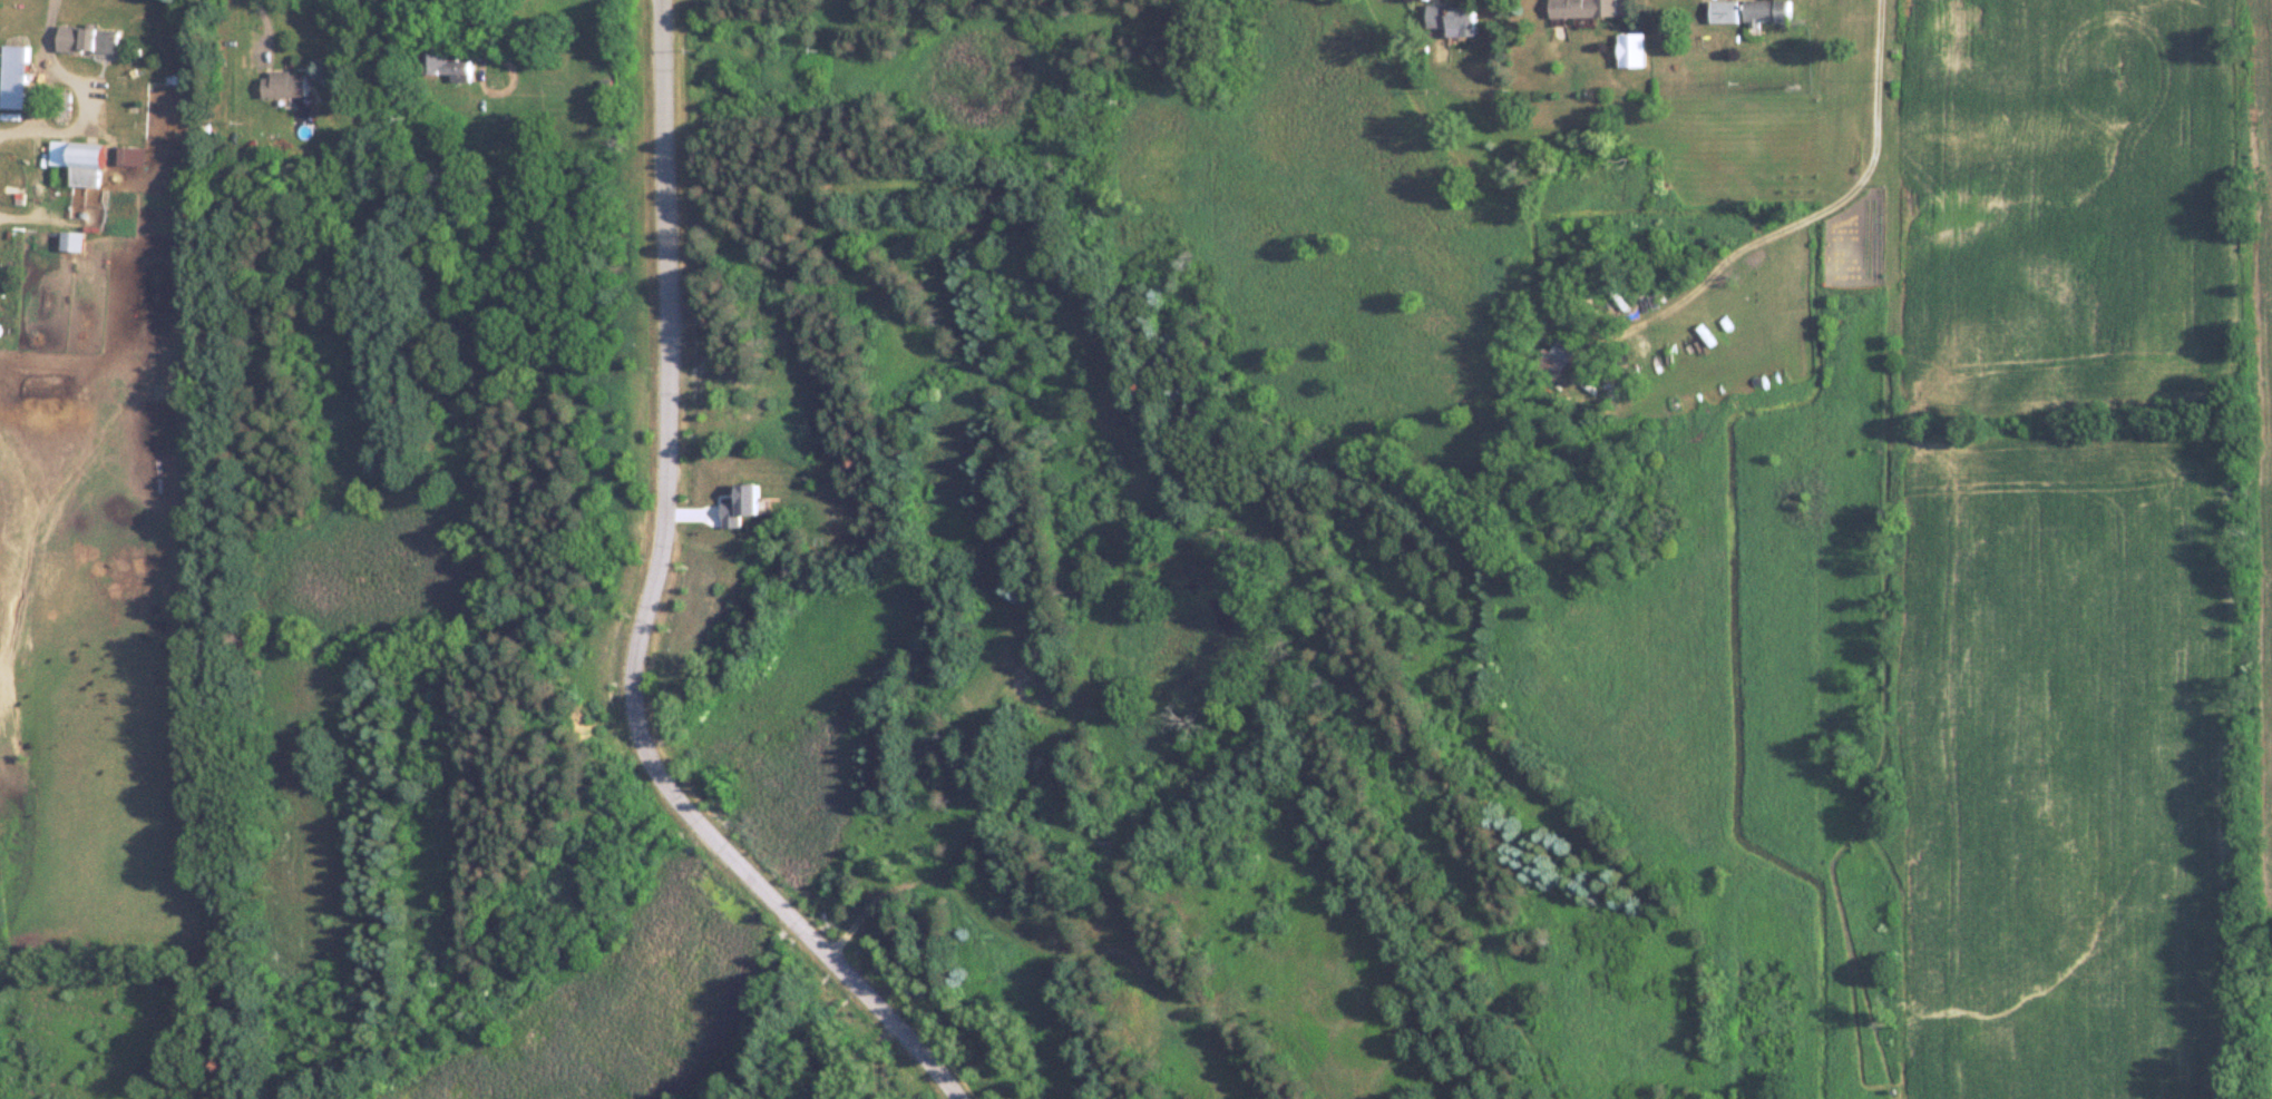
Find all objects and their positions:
building: (1582, 8)
building: (1723, 10)
building: (1765, 10)
building: (1449, 17)
road: (262, 27)
building: (87, 39)
building: (1630, 58)
building: (446, 65)
road: (53, 71)
building: (12, 76)
building: (283, 84)
road: (98, 117)
road: (22, 146)
building: (130, 156)
building: (78, 160)
road: (47, 212)
road: (1803, 216)
building: (70, 242)
building: (1556, 359)
road: (655, 606)
building: (1096, 844)

